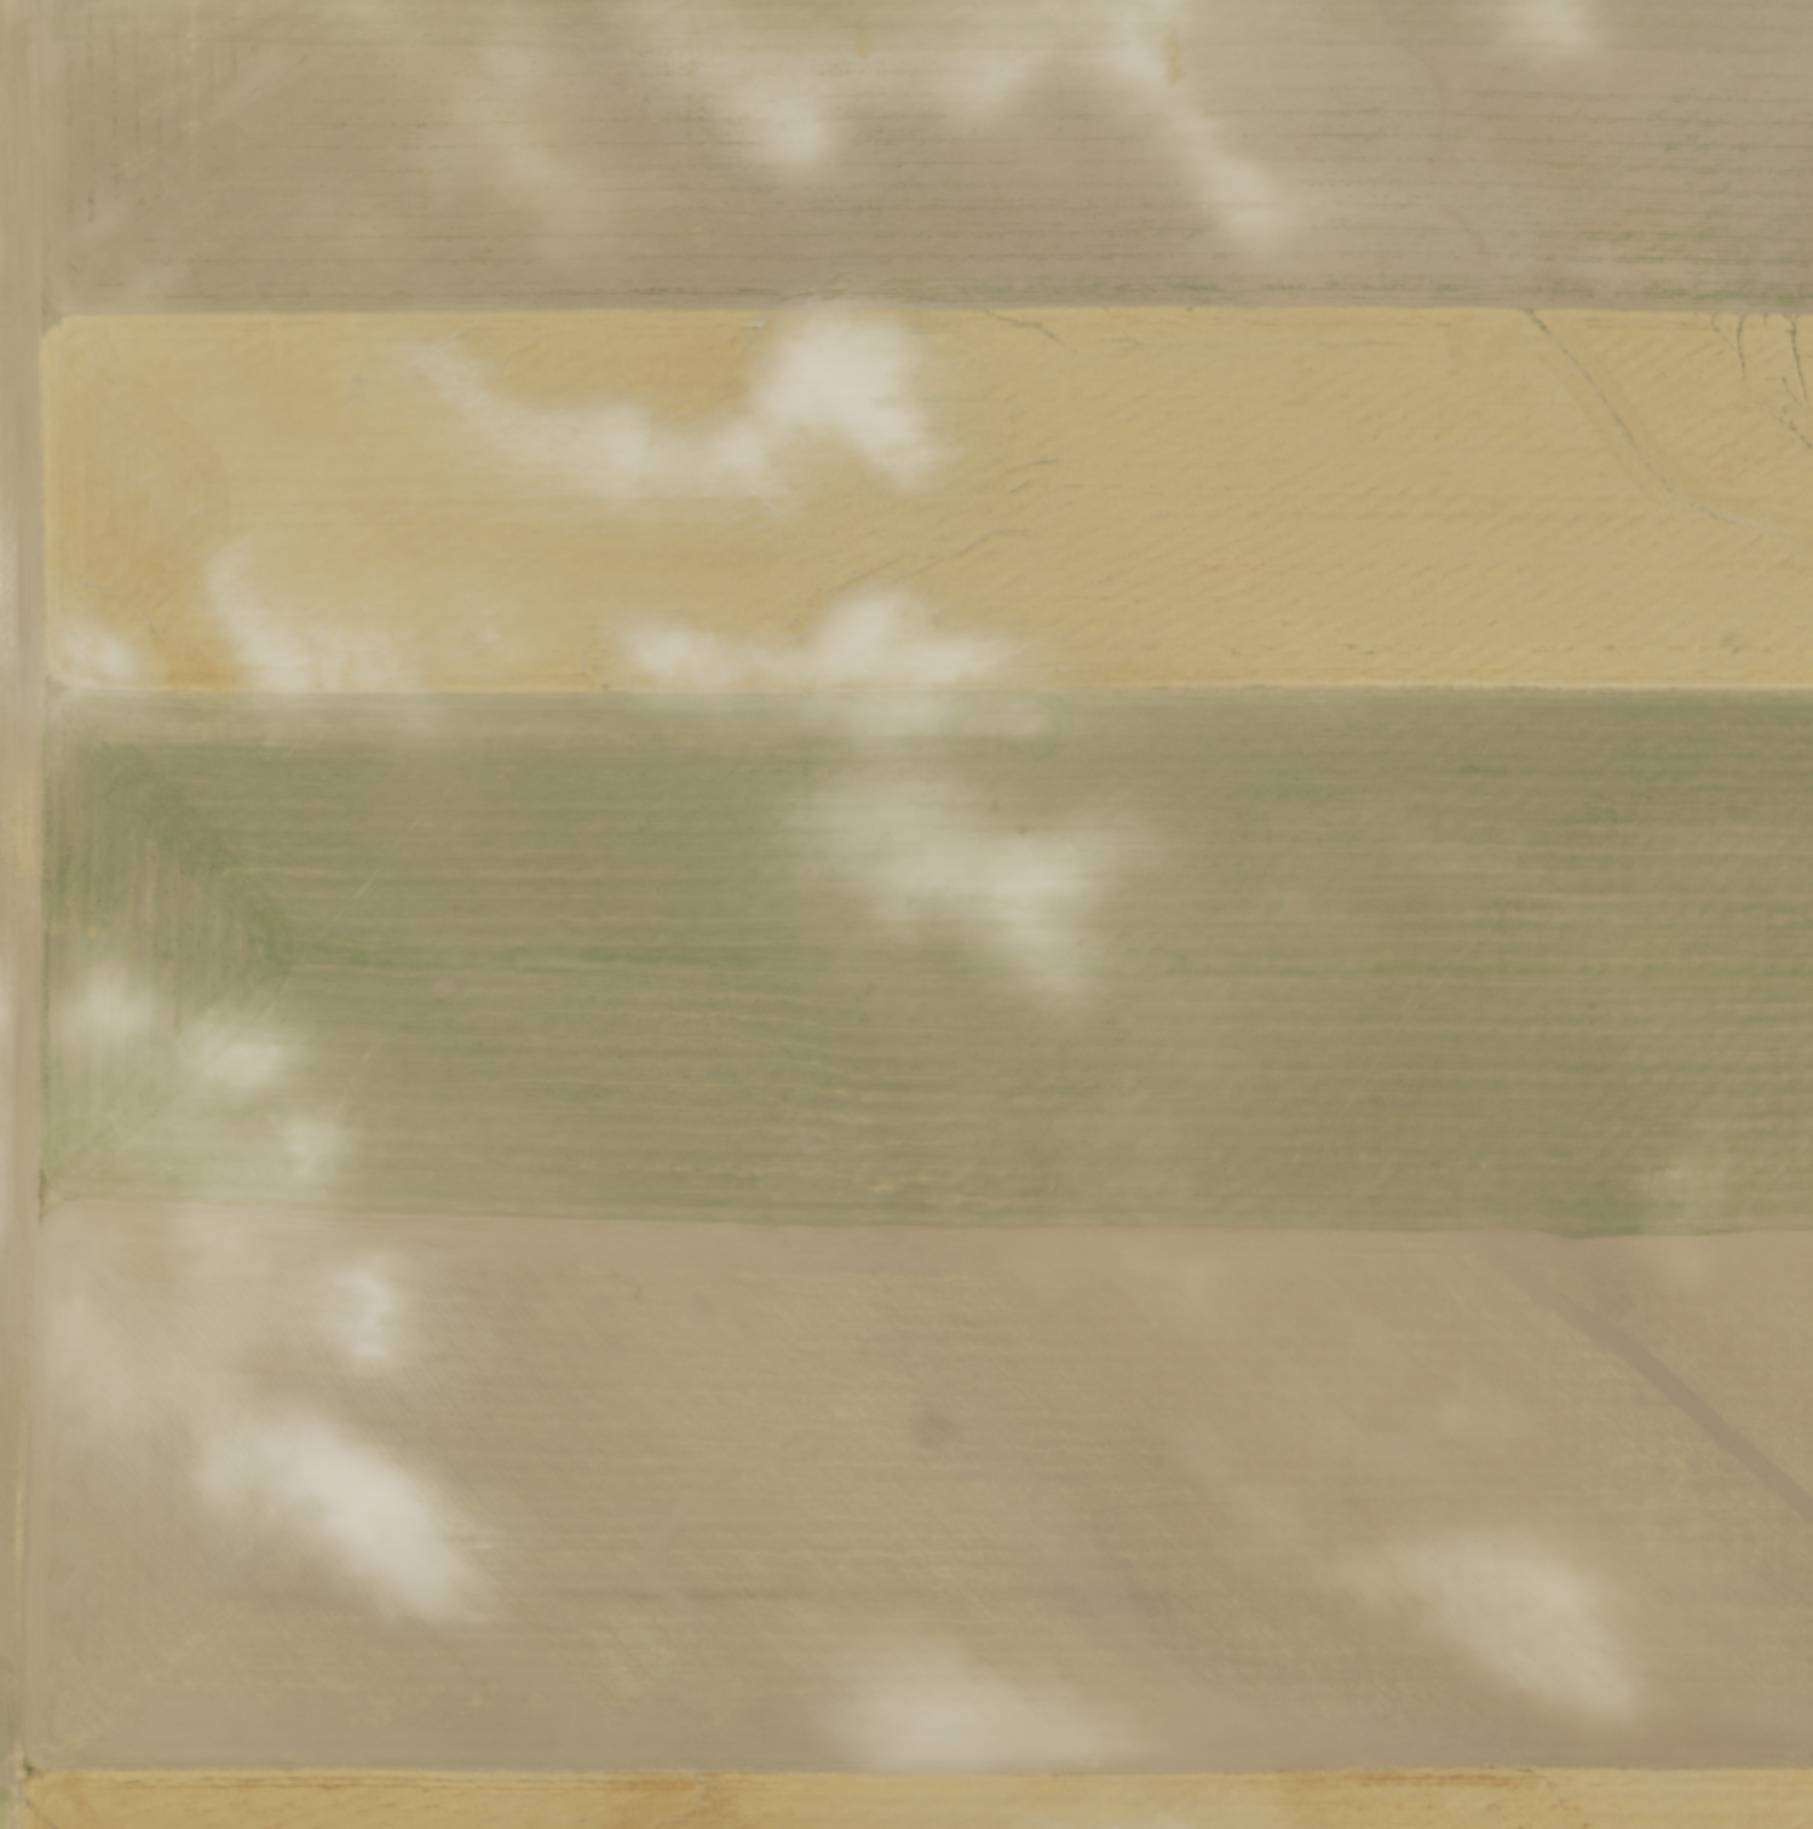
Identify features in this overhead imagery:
crop: (907, 914)

